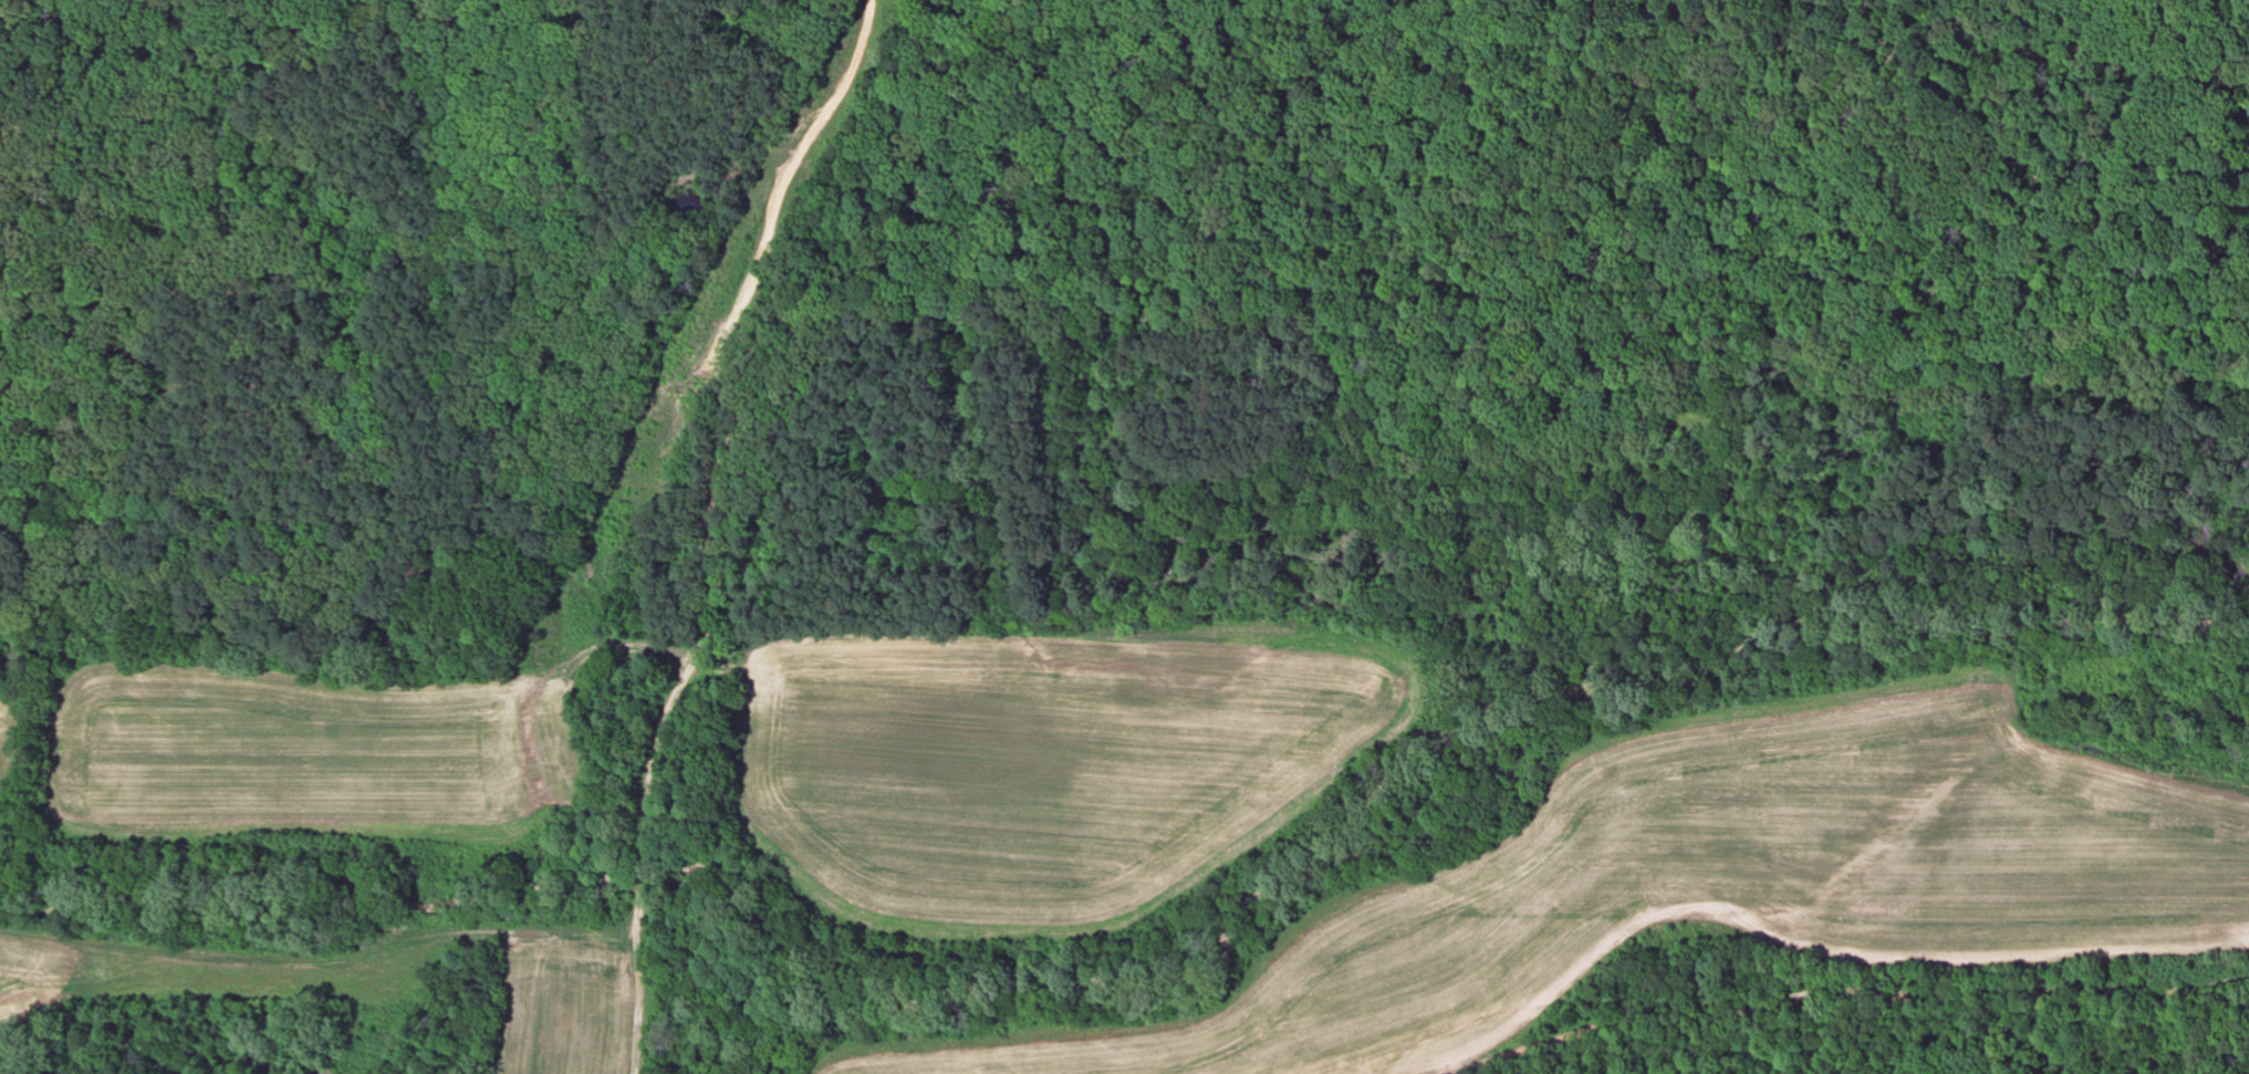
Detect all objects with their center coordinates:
road: (717, 524)
road: (1844, 988)

